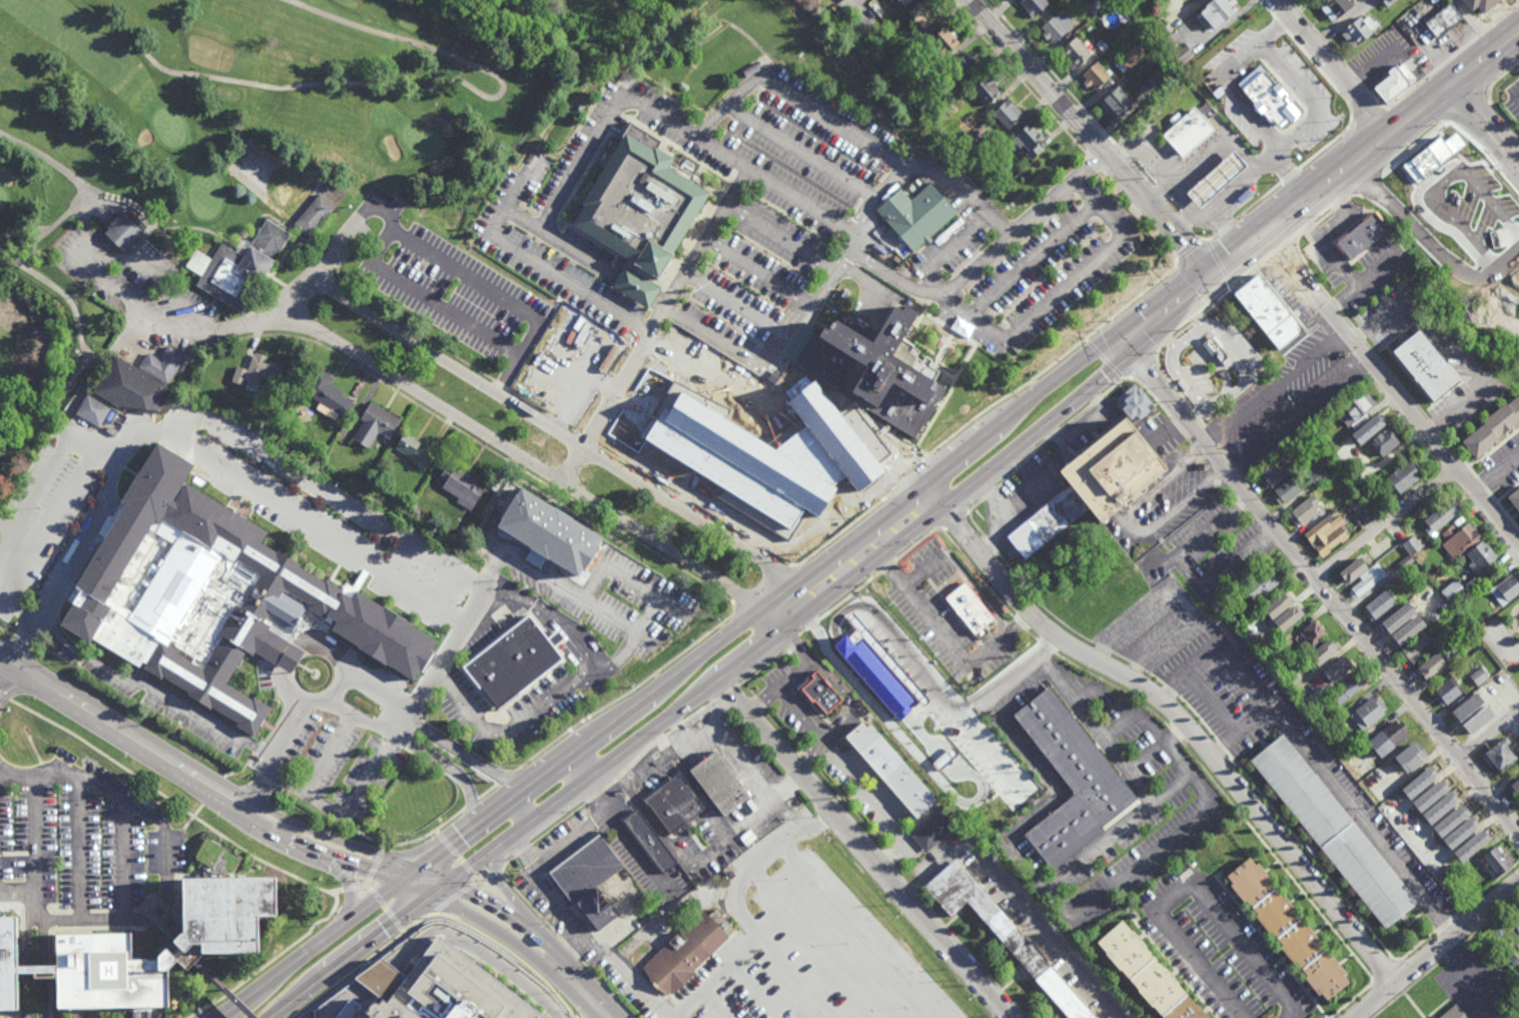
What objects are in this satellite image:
building: (629, 1)
building: (904, 2)
building: (1388, 2)
building: (1481, 4)
building: (1033, 6)
road: (842, 7)
building: (1092, 8)
building: (1335, 10)
building: (1216, 14)
road: (1505, 15)
building: (870, 16)
building: (922, 17)
building: (1440, 22)
road: (1338, 23)
road: (1274, 27)
building: (1057, 28)
building: (1359, 30)
building: (1160, 31)
road: (1316, 31)
road: (1485, 32)
building: (1107, 39)
building: (945, 42)
road: (1395, 47)
building: (1075, 54)
building: (1182, 55)
building: (1130, 58)
road: (1485, 58)
road: (1310, 60)
building: (1197, 63)
building: (963, 68)
road: (1332, 72)
building: (1159, 73)
road: (1054, 75)
building: (1096, 77)
road: (1428, 77)
road: (1470, 77)
road: (1018, 78)
road: (1356, 78)
road: (1500, 78)
building: (1393, 80)
building: (1200, 84)
road: (436, 85)
building: (907, 85)
road: (1230, 90)
building: (986, 92)
building: (1268, 97)
road: (1373, 98)
road: (1313, 100)
building: (1116, 104)
road: (722, 108)
building: (1206, 109)
road: (1465, 109)
building: (1226, 113)
building: (928, 114)
road: (1365, 114)
building: (1008, 116)
road: (1502, 118)
building: (969, 122)
road: (1486, 124)
building: (1189, 134)
road: (1096, 141)
building: (1029, 142)
road: (1414, 147)
road: (805, 151)
road: (719, 152)
road: (1124, 156)
road: (1315, 156)
road: (1158, 162)
road: (51, 163)
road: (1095, 164)
road: (1286, 173)
road: (1140, 174)
building: (1217, 180)
gas station: (1217, 180)
park: (249, 181)
road: (737, 183)
road: (1369, 184)
road: (1231, 190)
road: (524, 192)
road: (1268, 193)
road: (1160, 196)
building: (641, 206)
road: (877, 206)
road: (1188, 207)
road: (1171, 210)
road: (1247, 210)
building: (314, 213)
road: (1342, 215)
road: (1142, 216)
road: (1205, 217)
road: (1326, 217)
road: (1183, 223)
building: (911, 225)
road: (1226, 227)
building: (125, 232)
parking lot: (785, 233)
road: (1197, 237)
road: (1212, 237)
road: (781, 238)
building: (1357, 238)
road: (949, 248)
road: (289, 249)
road: (573, 250)
road: (1282, 251)
road: (1328, 251)
road: (1191, 253)
road: (0, 255)
road: (326, 259)
road: (441, 260)
road: (1034, 261)
traffic signals: (1205, 264)
building: (237, 266)
road: (1218, 266)
road: (758, 275)
road: (274, 278)
road: (1361, 280)
road: (913, 281)
traffic signals: (1222, 282)
building: (636, 287)
road: (1066, 288)
road: (1234, 289)
road: (63, 293)
road: (122, 294)
road: (214, 301)
road: (432, 302)
road: (739, 308)
building: (1268, 310)
road: (303, 318)
road: (1197, 320)
road: (626, 322)
road: (654, 323)
road: (218, 324)
road: (407, 327)
road: (1182, 331)
traffic signals: (1118, 332)
road: (1169, 341)
road: (717, 343)
road: (1452, 346)
building: (1214, 347)
road: (1160, 350)
traffic signals: (1135, 352)
road: (1105, 360)
road: (1053, 363)
building: (163, 364)
building: (1425, 365)
road: (1140, 367)
building: (872, 369)
building: (259, 371)
building: (555, 381)
road: (1171, 384)
road: (1388, 384)
road: (502, 385)
road: (1276, 387)
road: (1402, 388)
building: (131, 389)
building: (326, 392)
road: (1229, 395)
road: (1098, 398)
road: (56, 402)
building: (1133, 403)
road: (605, 409)
building: (1356, 409)
building: (94, 412)
road: (1297, 413)
road: (1201, 415)
road: (1183, 416)
building: (375, 426)
road: (1082, 426)
road: (66, 428)
building: (1493, 428)
building: (1357, 439)
road: (1059, 441)
building: (1385, 441)
road: (1043, 443)
road: (492, 449)
road: (77, 450)
road: (107, 450)
building: (412, 452)
building: (770, 453)
road: (1210, 464)
building: (1274, 472)
road: (910, 473)
road: (1495, 473)
road: (934, 476)
building: (1318, 476)
building: (1405, 476)
road: (651, 480)
road: (1092, 486)
building: (1090, 487)
building: (462, 489)
building: (1286, 492)
road: (335, 493)
road: (960, 494)
building: (1514, 498)
building: (1335, 503)
building: (1355, 506)
building: (1375, 509)
building: (414, 511)
building: (1305, 511)
building: (1439, 516)
road: (1121, 518)
road: (955, 521)
road: (1386, 523)
road: (1133, 525)
road: (49, 529)
road: (845, 529)
road: (319, 531)
road: (90, 534)
building: (1326, 536)
building: (549, 537)
building: (1457, 541)
road: (919, 543)
building: (1413, 546)
building: (400, 552)
road: (1292, 557)
building: (1477, 557)
building: (1406, 563)
building: (1462, 563)
road: (889, 567)
building: (1353, 570)
road: (1185, 575)
building: (1419, 575)
building: (1367, 581)
road: (1318, 582)
building: (1260, 585)
building: (1505, 589)
road: (764, 591)
building: (1451, 593)
building: (211, 594)
road: (855, 594)
road: (586, 602)
road: (793, 605)
building: (1379, 608)
building: (968, 609)
building: (1288, 611)
building: (1398, 619)
road: (818, 620)
building: (1471, 621)
road: (803, 632)
building: (1408, 632)
building: (1311, 637)
park: (1504, 639)
road: (948, 640)
park: (1500, 641)
road: (792, 644)
building: (1280, 645)
building: (1417, 649)
building: (1326, 652)
road: (289, 658)
building: (900, 658)
road: (440, 662)
building: (513, 664)
building: (1431, 666)
road: (762, 668)
road: (6, 671)
building: (1338, 671)
building: (879, 672)
road: (793, 676)
building: (1479, 678)
road: (134, 679)
building: (1295, 686)
building: (1351, 688)
building: (1445, 688)
road: (343, 689)
road: (1203, 690)
road: (565, 691)
road: (726, 692)
road: (843, 692)
building: (819, 693)
road: (626, 695)
road: (4, 698)
building: (1467, 707)
road: (802, 708)
building: (1368, 711)
road: (1177, 713)
building: (1479, 720)
road: (1094, 723)
road: (121, 729)
road: (704, 731)
road: (1489, 731)
road: (430, 734)
building: (1388, 735)
road: (660, 738)
road: (417, 749)
road: (813, 749)
building: (1495, 752)
road: (273, 754)
road: (328, 754)
building: (1412, 756)
road: (922, 757)
road: (1131, 767)
road: (244, 768)
building: (892, 769)
road: (571, 770)
road: (750, 774)
road: (507, 777)
building: (720, 780)
building: (1420, 782)
building: (1071, 783)
building: (1514, 786)
road: (864, 788)
road: (213, 790)
road: (488, 792)
road: (598, 794)
road: (1340, 794)
building: (1431, 796)
road: (173, 801)
building: (674, 802)
road: (471, 803)
road: (524, 805)
road: (1009, 806)
building: (1440, 807)
road: (344, 811)
building: (946, 811)
road: (787, 812)
building: (1451, 820)
road: (187, 823)
road: (558, 825)
building: (1334, 830)
road: (1116, 831)
building: (933, 832)
building: (1461, 832)
road: (428, 834)
road: (328, 836)
road: (627, 837)
road: (33, 838)
building: (650, 839)
building: (1471, 846)
road: (82, 848)
road: (317, 848)
road: (867, 849)
parking lot: (87, 851)
road: (521, 851)
road: (895, 852)
road: (711, 854)
road: (457, 855)
building: (1493, 860)
road: (375, 864)
road: (505, 865)
road: (168, 866)
traffic signals: (414, 866)
road: (123, 870)
road: (407, 871)
building: (1440, 872)
road: (434, 875)
road: (495, 876)
traffic signals: (400, 877)
building: (588, 878)
road: (484, 879)
road: (348, 884)
traffic signals: (454, 885)
road: (549, 886)
road: (362, 887)
road: (419, 887)
road: (503, 887)
road: (1185, 890)
road: (348, 894)
traffic signals: (438, 897)
road: (454, 897)
road: (1019, 899)
building: (152, 906)
road: (389, 906)
road: (533, 907)
road: (1068, 915)
road: (513, 916)
building: (1287, 928)
road: (498, 930)
building: (1002, 932)
building: (212, 947)
road: (1434, 948)
road: (312, 949)
road: (360, 949)
road: (571, 949)
road: (575, 949)
building: (685, 953)
road: (476, 955)
road: (510, 956)
road: (270, 963)
building: (9, 965)
road: (362, 966)
road: (36, 968)
road: (28, 969)
road: (42, 969)
helipad: (105, 970)
building: (1517, 972)
building: (1145, 973)
road: (382, 978)
road: (607, 988)
building: (437, 989)
road: (222, 990)
road: (583, 991)
road: (363, 995)
road: (347, 1010)
building: (1451, 1012)
road: (599, 1014)

